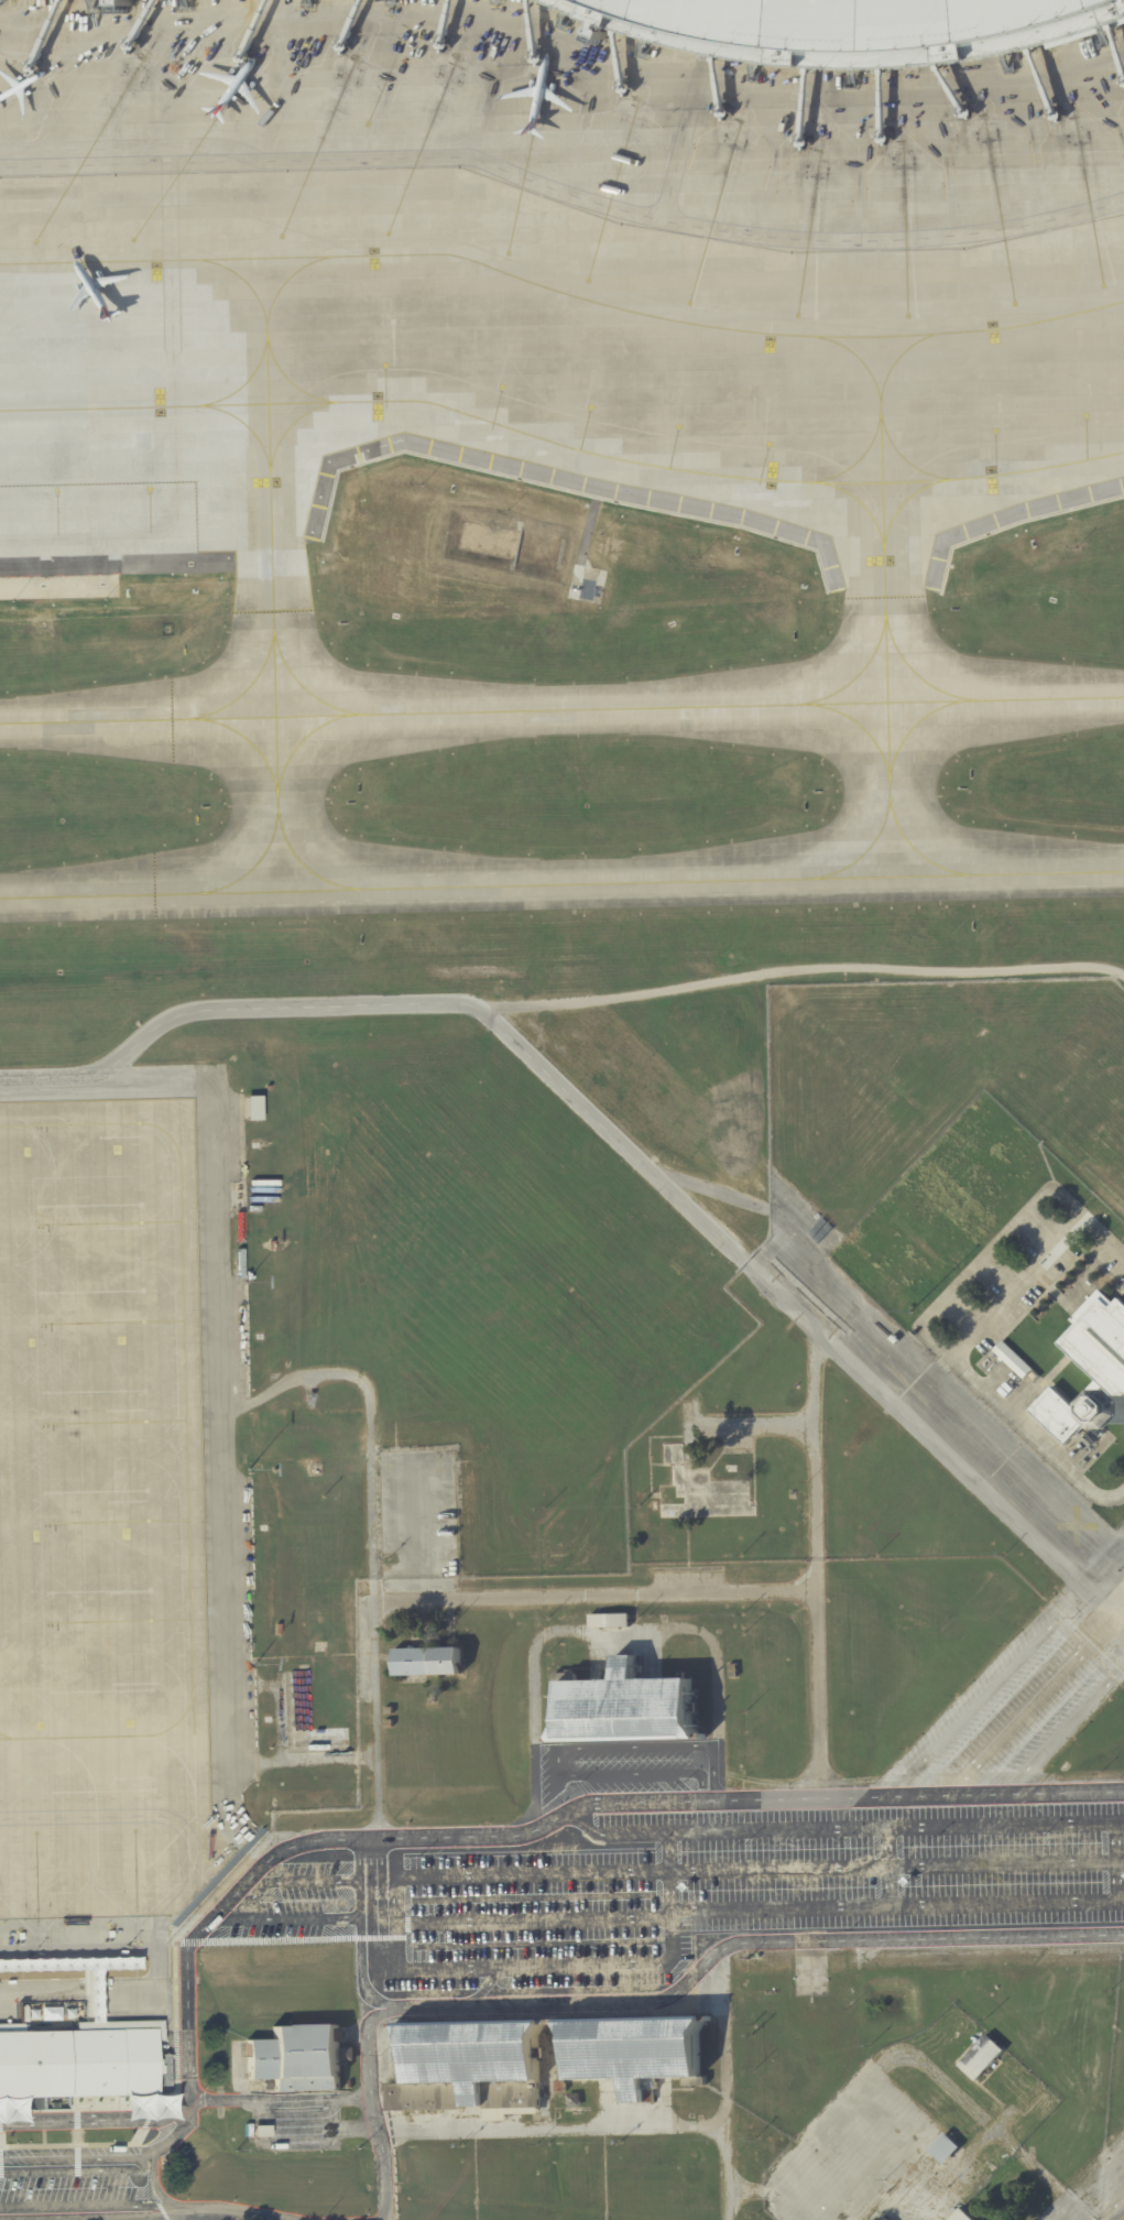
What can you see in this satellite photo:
building: (483, 11)
airport terminal: (843, 28)
building: (843, 28)
road: (564, 186)
airport apron: (542, 283)
airport taxiway: (285, 290)
airport taxiway: (563, 298)
airport taxiway: (870, 371)
airport taxiway: (247, 387)
airport taxiway: (295, 389)
airport taxiway: (473, 417)
airport taxiway: (296, 425)
airport taxiway: (247, 428)
airport taxiway: (864, 457)
airport taxiway: (904, 457)
airport taxiway: (1043, 471)
airport taxiway: (912, 497)
airport taxiway: (860, 507)
airport taxiway: (271, 587)
airport taxiway: (884, 614)
airport taxiway: (858, 672)
airport taxiway: (914, 673)
airport taxiway: (303, 686)
airport taxiway: (244, 687)
airport taxiway: (561, 708)
airport taxiway: (916, 721)
airport taxiway: (858, 723)
airport taxiway: (302, 738)
airport taxiway: (248, 740)
airport taxiway: (913, 848)
airport taxiway: (252, 866)
airport taxiway: (561, 883)
road: (413, 1004)
building: (251, 1109)
airport: (561, 1110)
airport taxiway: (89, 1122)
road: (1019, 1282)
building: (920, 1310)
building: (951, 1315)
building: (1013, 1360)
building: (1088, 1364)
building: (1034, 1375)
road: (945, 1408)
building: (1113, 1444)
building: (673, 1454)
airport apron: (101, 1514)
airport taxiway: (188, 1522)
road: (814, 1548)
building: (436, 1559)
building: (446, 1559)
road: (477, 1598)
building: (609, 1621)
building: (319, 1645)
building: (427, 1662)
road: (1098, 1665)
building: (733, 1671)
road: (984, 1693)
building: (626, 1708)
building: (388, 1709)
building: (308, 1718)
building: (389, 1723)
road: (1014, 1723)
airport taxiway: (6, 1734)
road: (1058, 1737)
road: (559, 1749)
road: (175, 1819)
road: (876, 1826)
road: (608, 1832)
road: (462, 1833)
parking lot: (717, 1851)
road: (896, 1865)
road: (888, 1867)
road: (1120, 1901)
road: (382, 1904)
road: (241, 1907)
road: (370, 1909)
road: (796, 1911)
road: (358, 1939)
road: (395, 1963)
building: (88, 1984)
road: (655, 2000)
building: (347, 2054)
building: (633, 2054)
building: (295, 2057)
building: (981, 2058)
airport terminal: (79, 2065)
building: (79, 2065)
building: (470, 2067)
road: (724, 2082)
building: (265, 2086)
road: (280, 2099)
building: (571, 2101)
road: (182, 2127)
building: (826, 2127)
building: (258, 2130)
road: (499, 2131)
building: (942, 2147)
road: (77, 2153)
parking lot: (75, 2187)
road: (160, 2190)
road: (768, 2192)
road: (1115, 2212)
road: (148, 2216)
road: (179, 2216)
building: (961, 2216)
building: (883, 2218)

